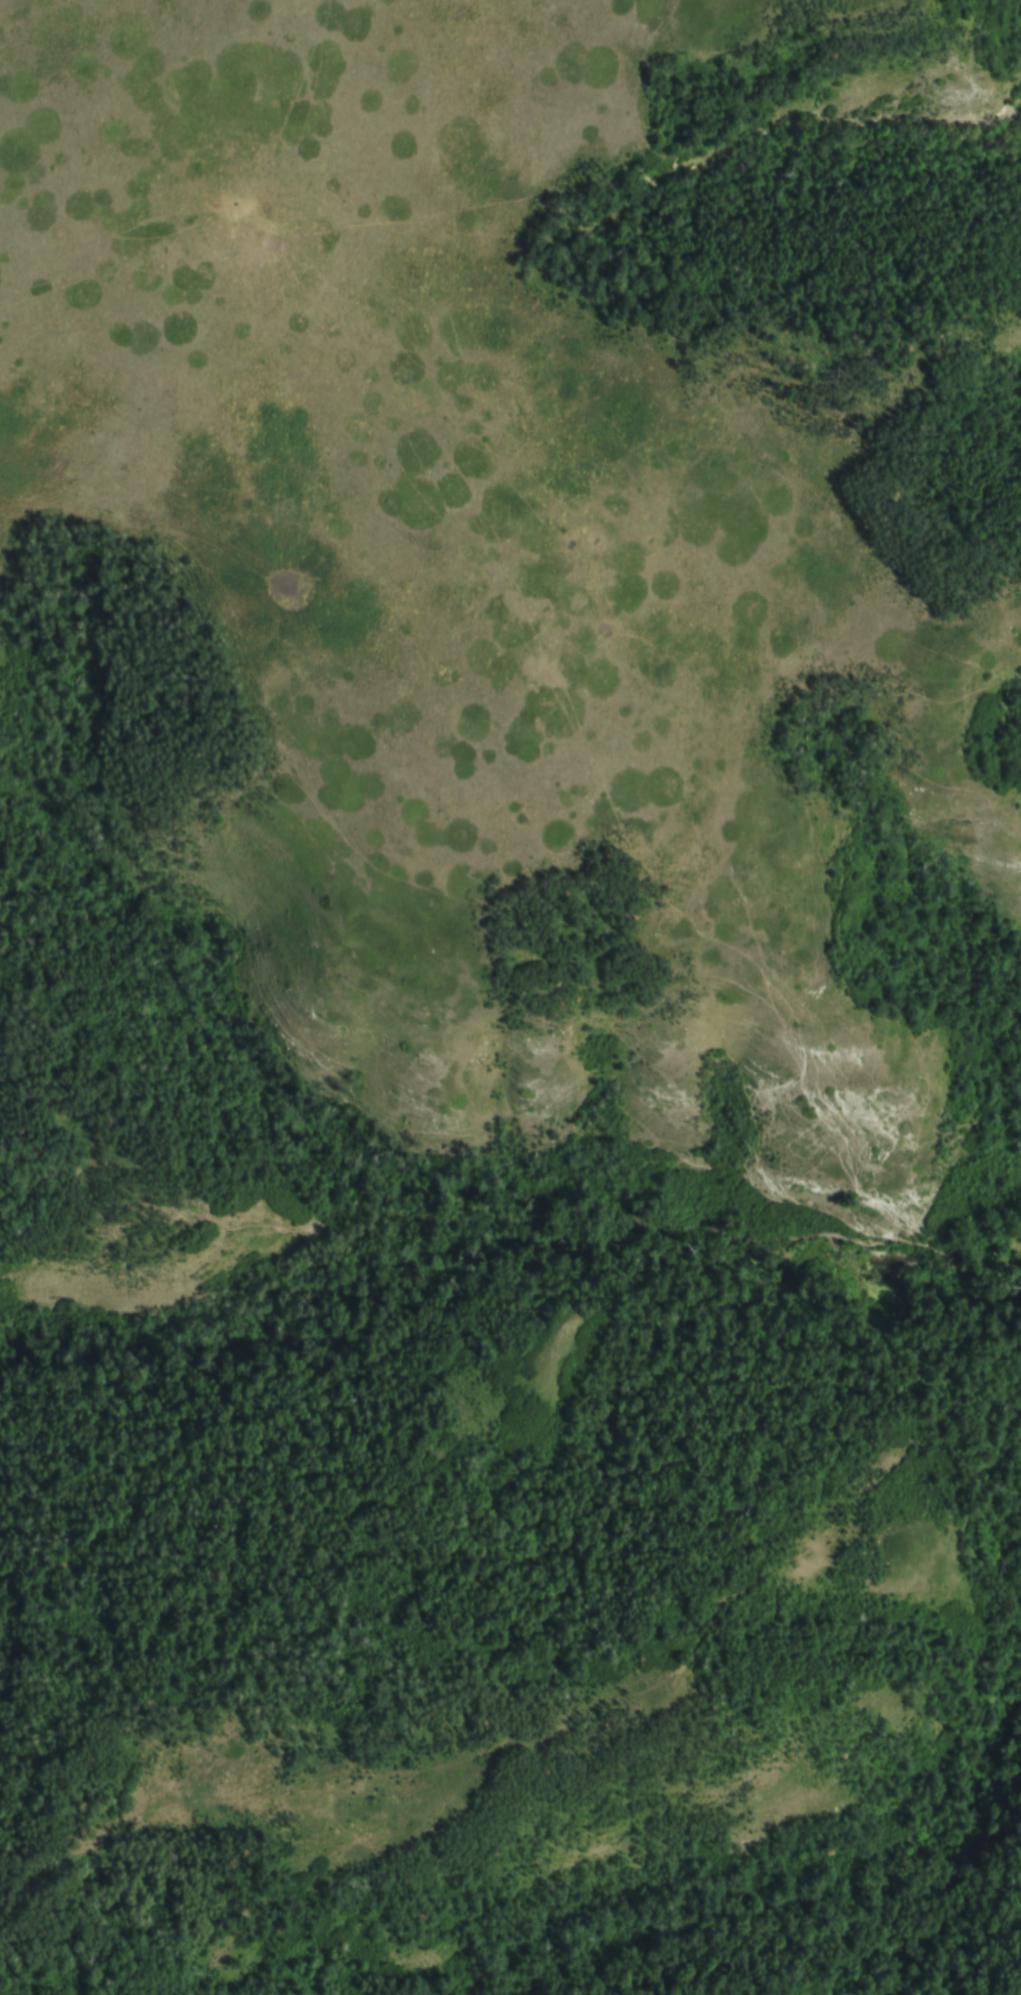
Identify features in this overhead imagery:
road: (1, 1)

